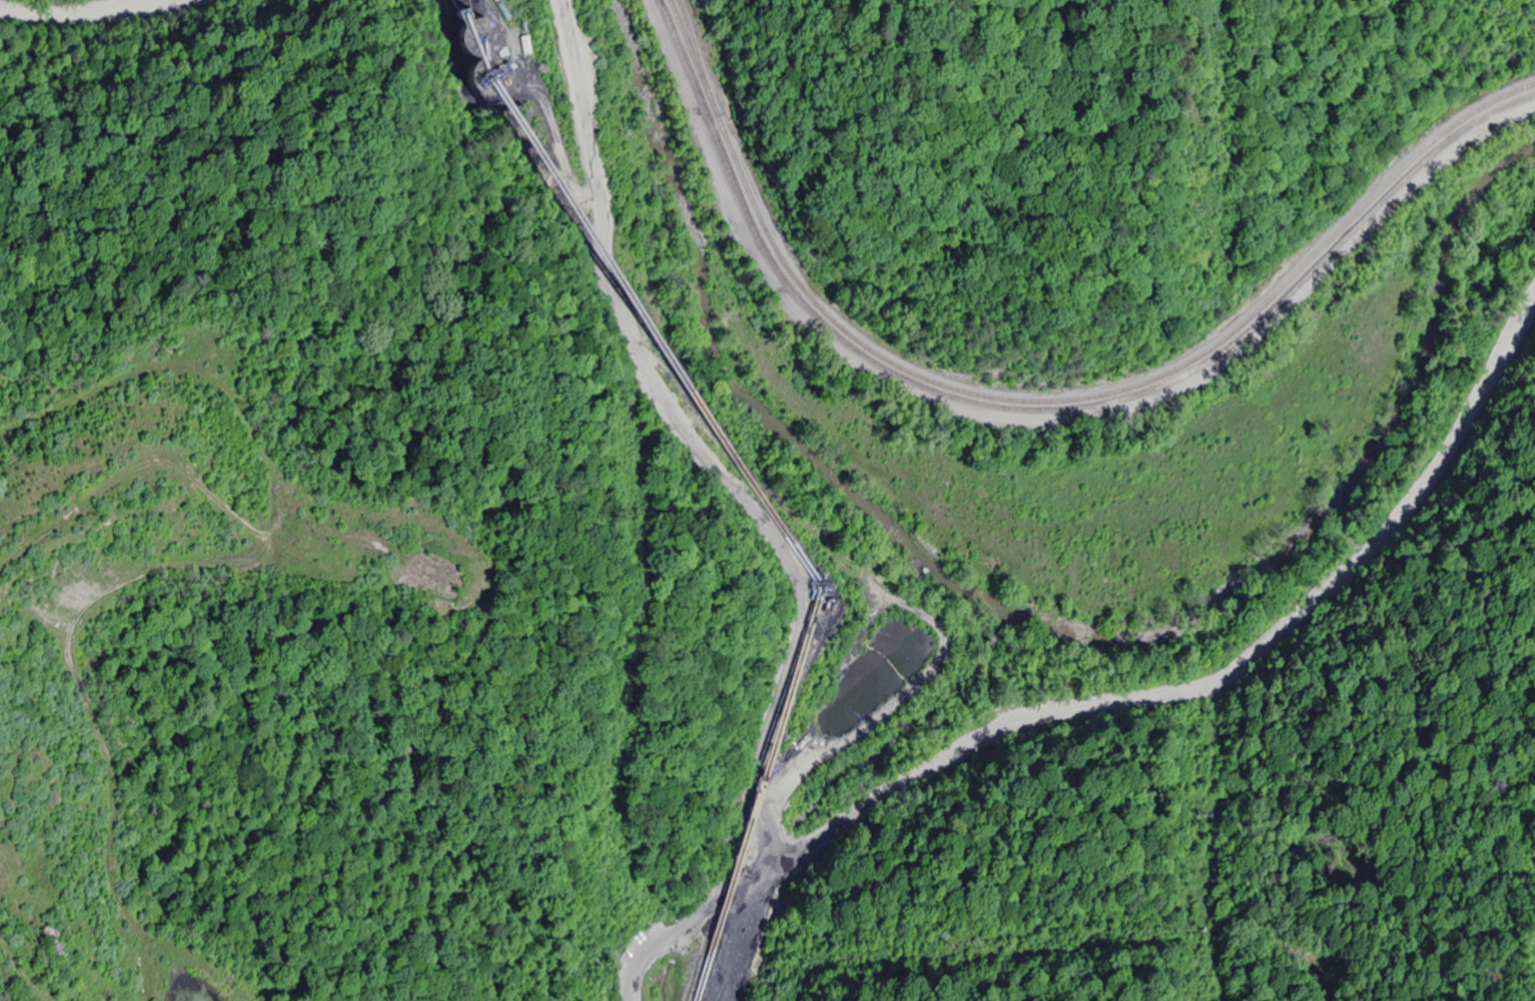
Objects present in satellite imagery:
road: (98, 15)
railway: (1046, 401)
quarry: (188, 722)
road: (805, 851)
road: (769, 927)

